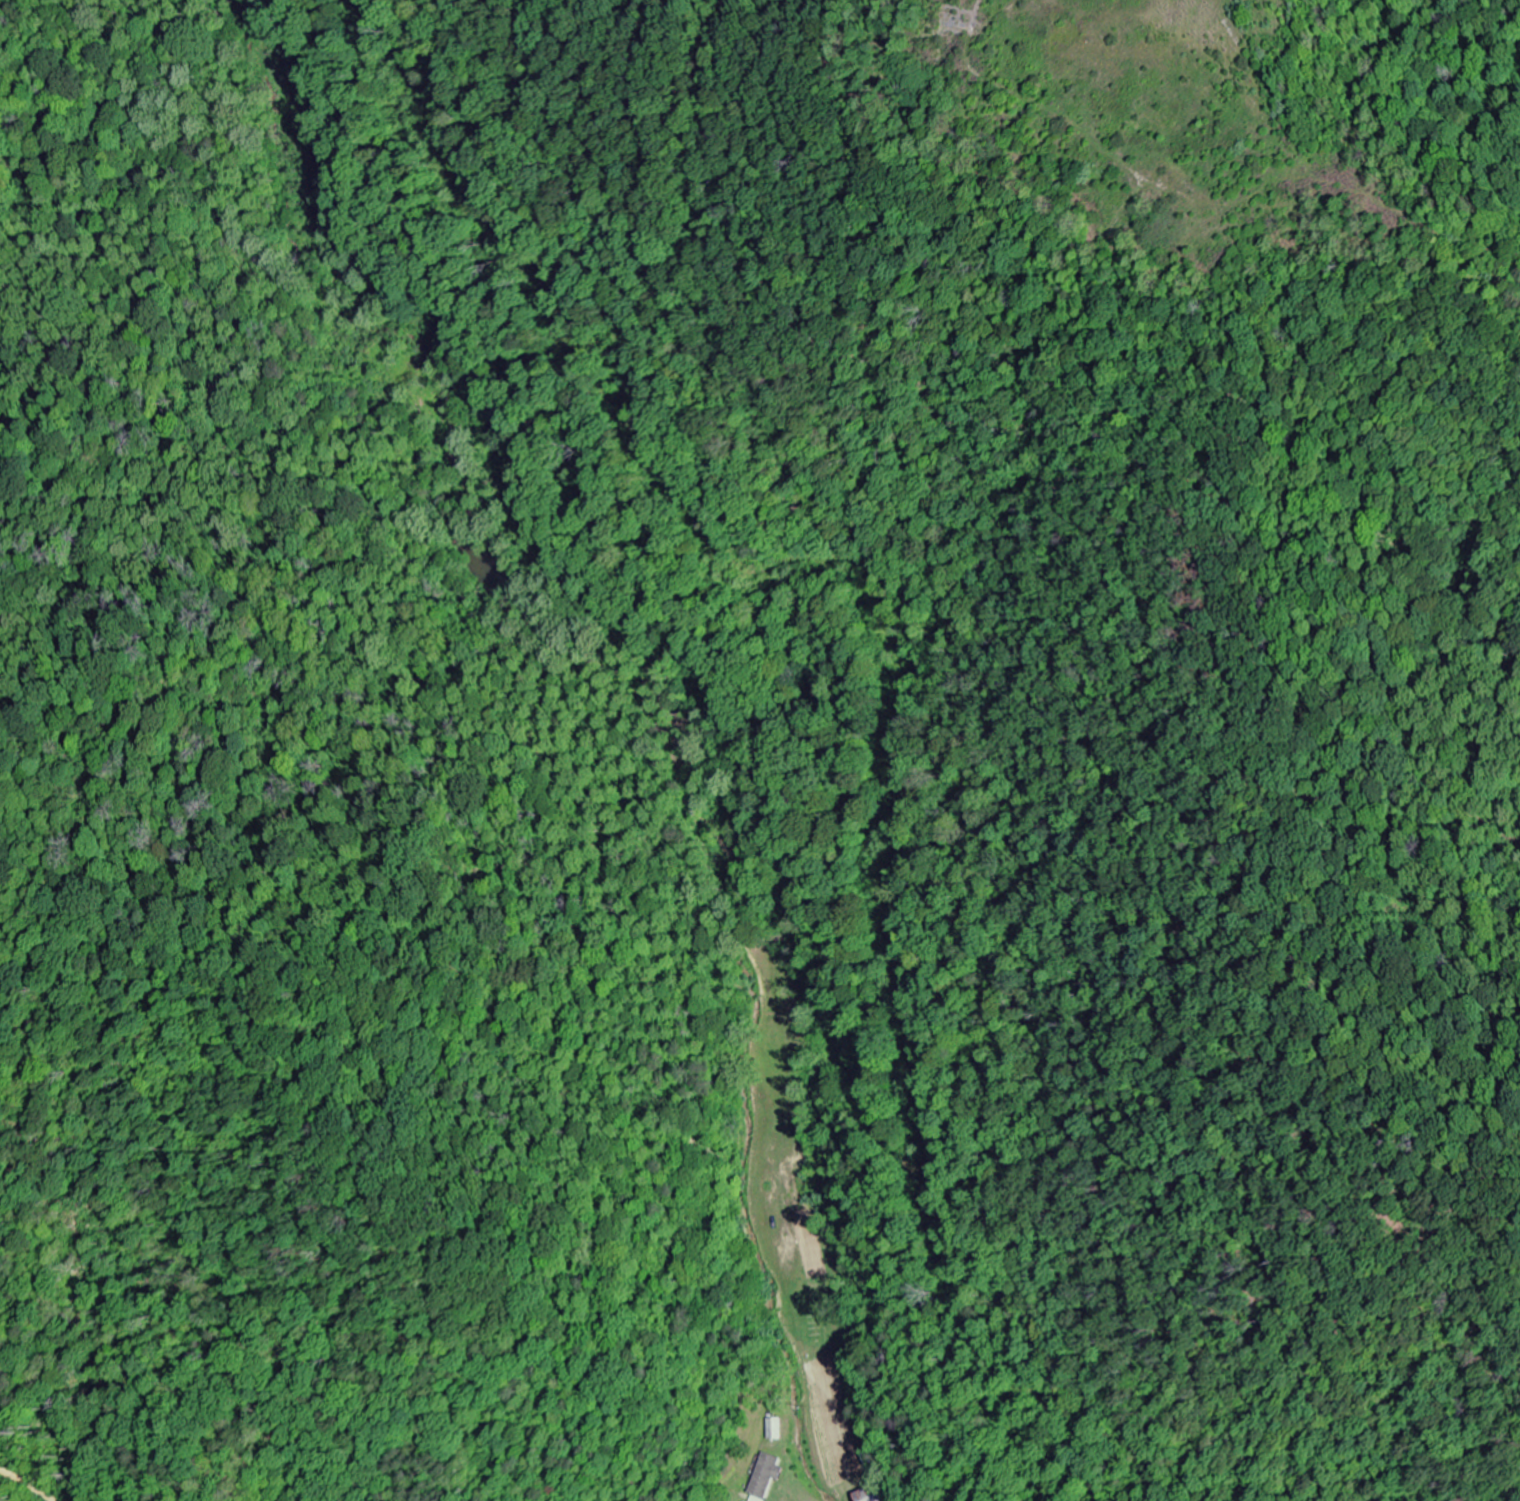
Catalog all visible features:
building: (776, 1428)
building: (767, 1475)
road: (23, 1485)
building: (870, 1494)

